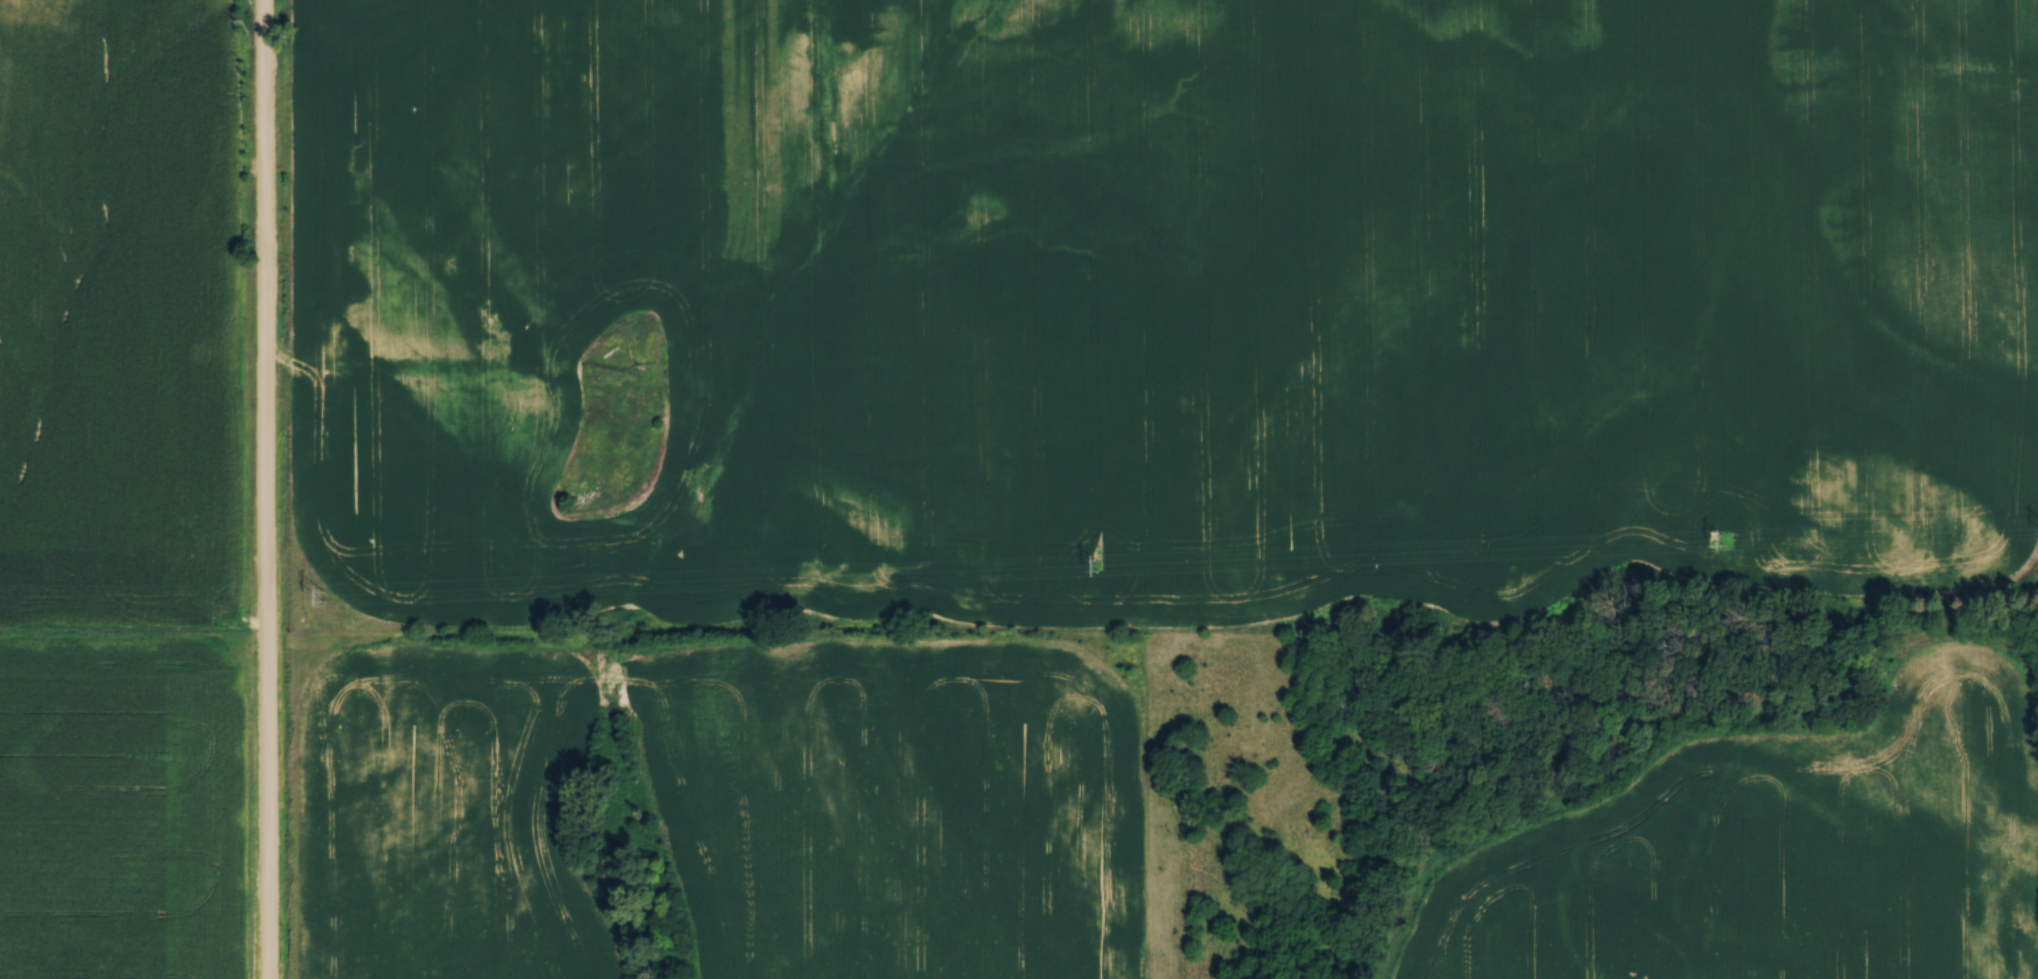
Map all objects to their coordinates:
road: (264, 489)
power tower: (1722, 536)
power tower: (1097, 561)
power tower: (324, 591)

